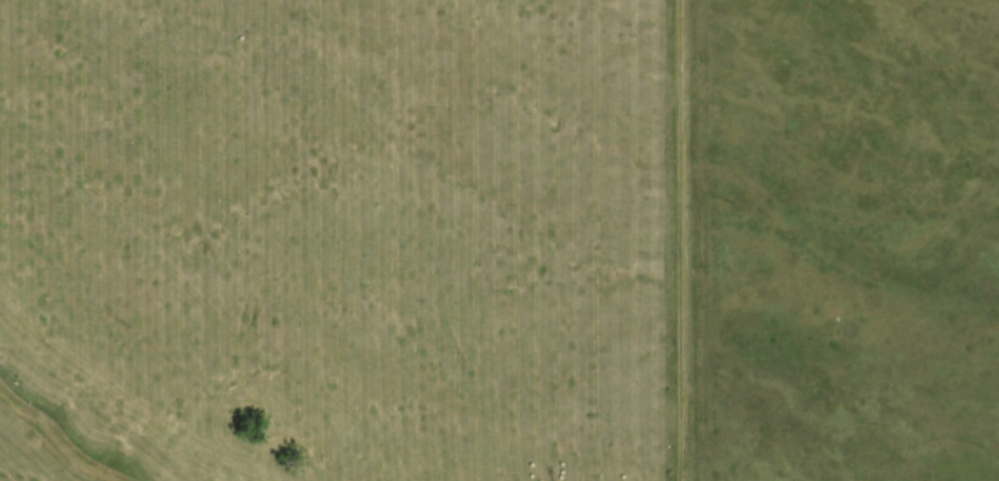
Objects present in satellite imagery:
road: (686, 240)

